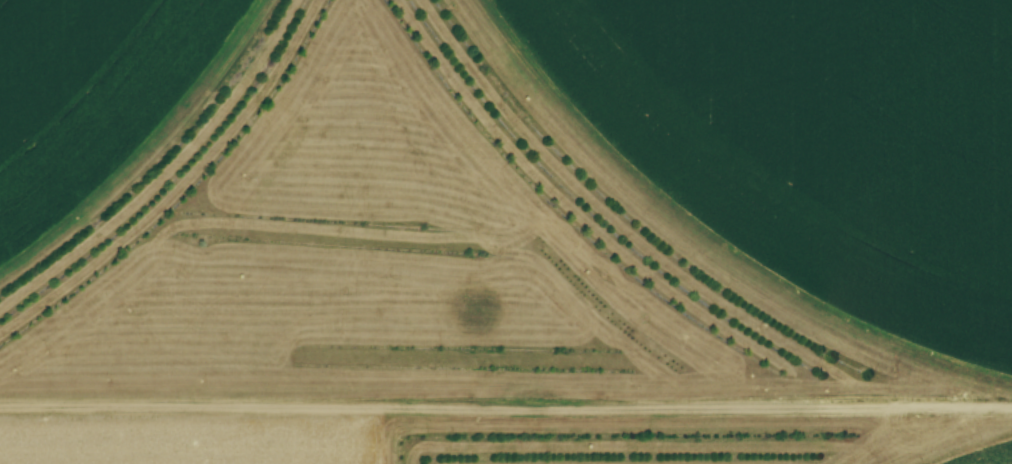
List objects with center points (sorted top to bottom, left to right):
road: (506, 405)

